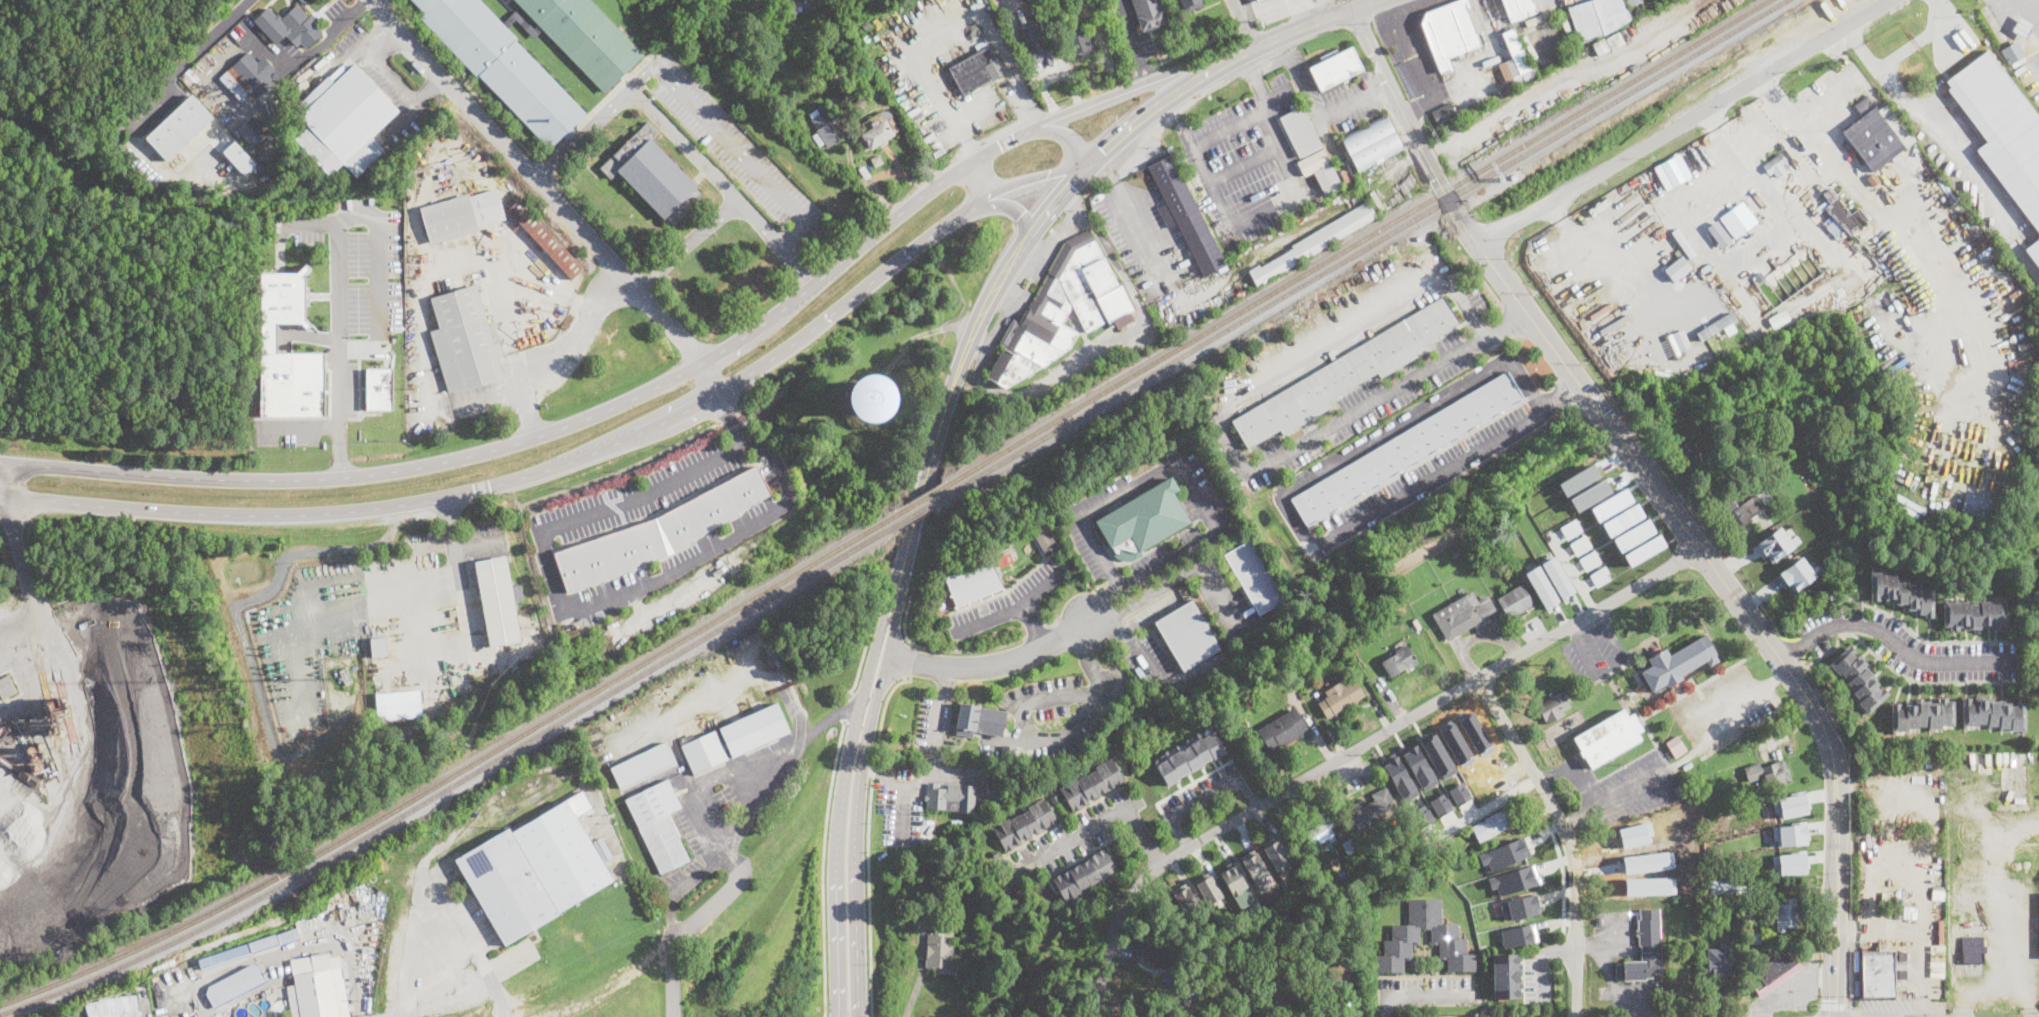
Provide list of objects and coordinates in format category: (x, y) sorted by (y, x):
building: (1262, 1)
building: (1188, 3)
road: (841, 6)
building: (787, 7)
building: (1637, 7)
building: (1494, 8)
building: (1519, 9)
building: (1149, 13)
building: (1598, 17)
road: (1310, 21)
road: (1244, 23)
building: (866, 24)
building: (718, 25)
building: (289, 26)
building: (464, 27)
road: (944, 31)
building: (1451, 31)
building: (733, 35)
parking lot: (1654, 36)
building: (584, 37)
road: (1645, 37)
road: (1918, 39)
building: (1079, 40)
building: (1615, 40)
building: (1037, 41)
road: (1133, 41)
building: (2030, 43)
parking lot: (1408, 44)
building: (1600, 45)
building: (2013, 52)
road: (1415, 61)
building: (1516, 62)
road: (296, 65)
building: (976, 69)
building: (1335, 69)
road: (1138, 71)
building: (847, 72)
building: (249, 75)
road: (393, 76)
building: (1445, 76)
road: (462, 79)
road: (1297, 80)
building: (532, 95)
parking lot: (1335, 97)
building: (862, 102)
road: (1164, 103)
road: (1354, 104)
building: (276, 112)
road: (706, 112)
road: (148, 114)
building: (1443, 114)
road: (1684, 122)
building: (345, 123)
building: (180, 126)
building: (827, 126)
building: (2002, 128)
road: (1411, 129)
building: (877, 130)
road: (1928, 130)
building: (1300, 131)
road: (1062, 134)
building: (1877, 134)
building: (249, 135)
building: (1372, 143)
building: (821, 144)
parking lot: (735, 146)
traffic signals: (1104, 151)
building: (239, 157)
building: (259, 157)
building: (877, 159)
building: (1313, 161)
road: (1245, 162)
parking lot: (1245, 164)
road: (543, 168)
building: (1779, 168)
building: (1672, 171)
building: (864, 172)
building: (653, 175)
traffic signals: (1049, 176)
road: (981, 178)
building: (1329, 180)
building: (1873, 180)
traffic signals: (1071, 185)
road: (730, 191)
road: (550, 192)
road: (1000, 207)
road: (1258, 212)
building: (1845, 213)
building: (460, 215)
building: (1185, 215)
building: (1739, 218)
road: (759, 222)
road: (595, 224)
building: (1718, 233)
parking lot: (1144, 239)
building: (546, 240)
building: (1314, 243)
railway: (1352, 243)
building: (1227, 244)
road: (1041, 248)
railway: (1359, 248)
road: (1156, 251)
building: (2034, 252)
road: (380, 254)
building: (1759, 275)
road: (647, 280)
road: (1721, 281)
road: (1449, 283)
parking lot: (357, 285)
road: (1486, 285)
building: (1062, 309)
road: (674, 310)
road: (1005, 311)
road: (1506, 323)
building: (1718, 325)
building: (266, 339)
building: (464, 341)
road: (1103, 345)
road: (338, 348)
road: (560, 356)
road: (960, 366)
building: (1346, 374)
road: (665, 382)
building: (376, 388)
road: (1562, 393)
building: (870, 397)
water tower: (870, 397)
road: (300, 426)
parking lot: (288, 431)
building: (1406, 447)
building: (1693, 457)
road: (579, 458)
road: (1180, 465)
parking lot: (1429, 473)
building: (1579, 479)
road: (8, 481)
building: (1590, 494)
building: (1764, 494)
parking lot: (634, 495)
road: (1281, 495)
building: (2036, 500)
railway: (919, 501)
building: (1611, 504)
building: (1975, 504)
building: (1738, 510)
railway: (917, 513)
building: (1144, 519)
building: (1622, 519)
building: (1570, 528)
building: (659, 532)
building: (1634, 534)
building: (1045, 538)
building: (1777, 543)
building: (1580, 544)
building: (1005, 545)
building: (1644, 549)
building: (1455, 552)
building: (1589, 559)
parking lot: (676, 570)
road: (22, 572)
building: (1796, 572)
building: (1600, 575)
building: (1255, 576)
building: (1558, 576)
building: (972, 582)
building: (1542, 586)
building: (1902, 592)
road: (1149, 595)
road: (1221, 597)
road: (464, 600)
road: (598, 600)
building: (497, 601)
parking lot: (1008, 601)
road: (1102, 601)
building: (1515, 602)
road: (1739, 603)
road: (1011, 607)
building: (1974, 614)
building: (1462, 615)
road: (1107, 621)
road: (1032, 624)
building: (1187, 636)
road: (1892, 638)
building: (378, 647)
parking lot: (1913, 647)
road: (942, 649)
parking lot: (1594, 650)
road: (1140, 653)
road: (1087, 655)
road: (861, 657)
road: (910, 660)
parking lot: (1148, 660)
building: (1397, 661)
road: (992, 662)
building: (1678, 663)
road: (1608, 666)
building: (345, 676)
building: (1859, 677)
road: (1778, 678)
road: (946, 685)
building: (6, 687)
building: (342, 697)
building: (1340, 698)
building: (398, 704)
building: (1554, 706)
road: (848, 707)
parking lot: (1061, 711)
building: (1993, 712)
building: (1922, 714)
building: (979, 721)
road: (1711, 722)
parking lot: (933, 725)
building: (754, 730)
building: (1284, 731)
road: (868, 733)
road: (1025, 736)
road: (936, 738)
building: (1608, 738)
building: (1676, 747)
building: (702, 750)
road: (1355, 751)
building: (1010, 753)
building: (1437, 755)
building: (1118, 757)
building: (1189, 758)
building: (645, 762)
building: (1418, 765)
railway: (456, 771)
road: (1667, 772)
building: (1007, 773)
building: (1769, 774)
road: (1557, 775)
road: (885, 776)
building: (1399, 776)
railway: (455, 782)
building: (1090, 784)
parking lot: (1629, 787)
road: (1585, 788)
building: (1459, 792)
building: (993, 794)
road: (1247, 794)
building: (951, 798)
building: (1054, 798)
road: (1205, 799)
road: (841, 800)
road: (904, 801)
building: (1440, 804)
building: (1788, 804)
parking lot: (900, 808)
road: (1484, 808)
building: (1371, 811)
building: (1422, 815)
road: (1580, 818)
road: (1100, 823)
building: (658, 824)
building: (1024, 824)
building: (1492, 825)
building: (1658, 826)
building: (1320, 832)
building: (1787, 832)
road: (1180, 833)
parking lot: (1073, 835)
road: (1565, 837)
road: (867, 841)
road: (734, 845)
building: (1350, 846)
building: (1504, 854)
building: (1276, 855)
building: (1628, 862)
building: (1787, 862)
building: (1254, 865)
road: (822, 867)
building: (535, 869)
building: (1084, 875)
building: (1233, 878)
building: (1515, 879)
road: (1564, 880)
building: (1721, 887)
building: (1209, 889)
building: (920, 892)
building: (1186, 900)
building: (970, 906)
building: (1521, 906)
building: (1890, 911)
road: (446, 913)
building: (1786, 915)
building: (1900, 915)
building: (1937, 926)
building: (1405, 933)
building: (288, 934)
building: (1517, 935)
building: (1755, 938)
building: (1262, 939)
building: (1937, 940)
building: (263, 942)
building: (1881, 946)
building: (1971, 946)
road: (857, 947)
road: (1561, 948)
building: (1644, 948)
building: (1153, 949)
building: (941, 952)
building: (1902, 954)
building: (224, 957)
building: (1718, 963)
building: (1775, 973)
building: (1902, 973)
building: (1506, 975)
parking lot: (1537, 975)
building: (1876, 975)
road: (1544, 976)
building: (1339, 980)
building: (235, 987)
building: (315, 990)
building: (1275, 990)
parking lot: (1426, 991)
road: (912, 993)
building: (1221, 994)
road: (1427, 994)
building: (1293, 995)
traffic signals: (1833, 999)
road: (1832, 1004)
road: (1385, 1005)
road: (1852, 1009)
parking lot: (71, 1013)
building: (182, 1013)
building: (123, 1014)
road: (1809, 1014)
road: (1862, 1014)
building: (164, 1015)

